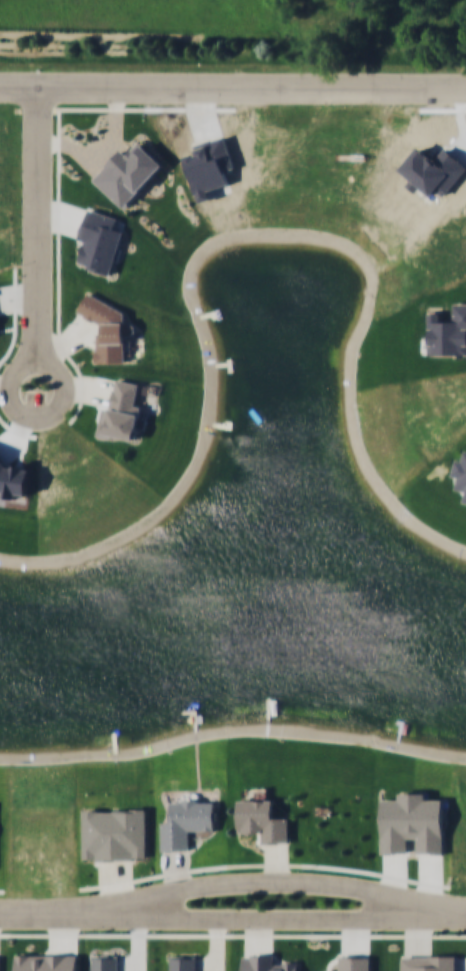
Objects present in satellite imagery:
road: (232, 44)
road: (232, 92)
road: (74, 144)
building: (128, 172)
road: (61, 218)
road: (36, 239)
building: (100, 243)
building: (108, 327)
road: (71, 344)
road: (65, 349)
road: (17, 384)
road: (74, 390)
building: (124, 412)
road: (3, 419)
building: (461, 476)
building: (262, 818)
building: (185, 827)
building: (414, 828)
building: (114, 832)
road: (283, 862)
road: (189, 871)
road: (178, 872)
road: (123, 881)
road: (275, 882)
road: (2, 892)
road: (42, 913)
road: (275, 921)
road: (64, 932)
road: (43, 935)
road: (313, 935)
road: (421, 935)
road: (259, 936)
road: (360, 936)
road: (217, 952)
building: (49, 960)
building: (356, 961)
building: (0, 962)
building: (184, 962)
building: (268, 962)
building: (429, 962)

